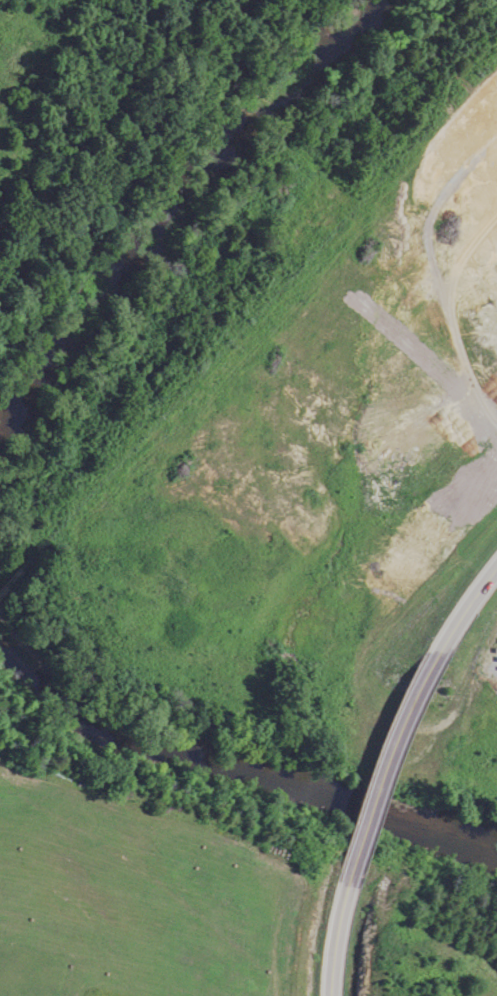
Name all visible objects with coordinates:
road: (464, 606)
road: (384, 759)
road: (340, 934)

